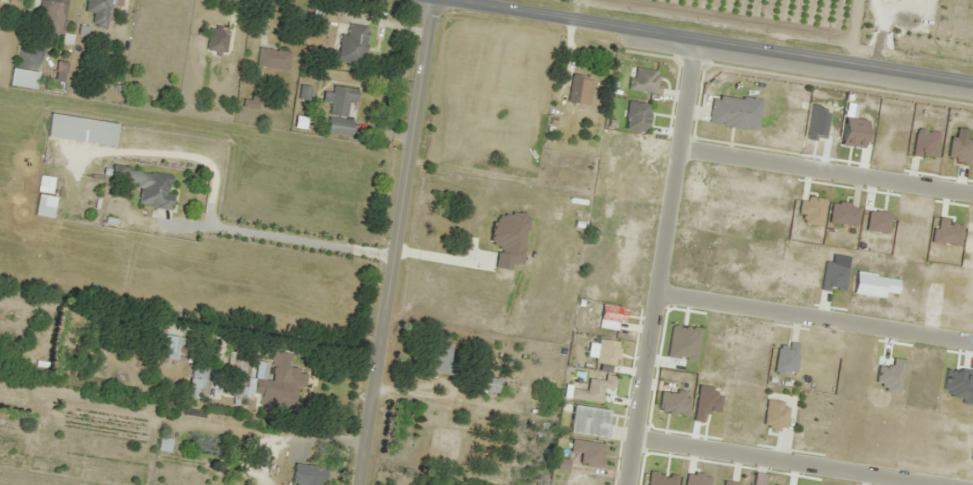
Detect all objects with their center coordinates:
building: (4, 1)
building: (96, 11)
building: (52, 12)
building: (215, 40)
road: (690, 43)
building: (350, 44)
building: (271, 59)
building: (20, 78)
building: (642, 79)
building: (578, 89)
building: (336, 100)
building: (733, 111)
building: (635, 115)
building: (79, 129)
road: (825, 170)
building: (117, 172)
building: (152, 190)
building: (41, 206)
building: (509, 232)
road: (395, 244)
road: (659, 264)
road: (814, 315)
building: (172, 347)
building: (439, 357)
building: (271, 379)
building: (195, 381)
building: (484, 383)
building: (163, 443)
road: (785, 461)
building: (306, 474)

